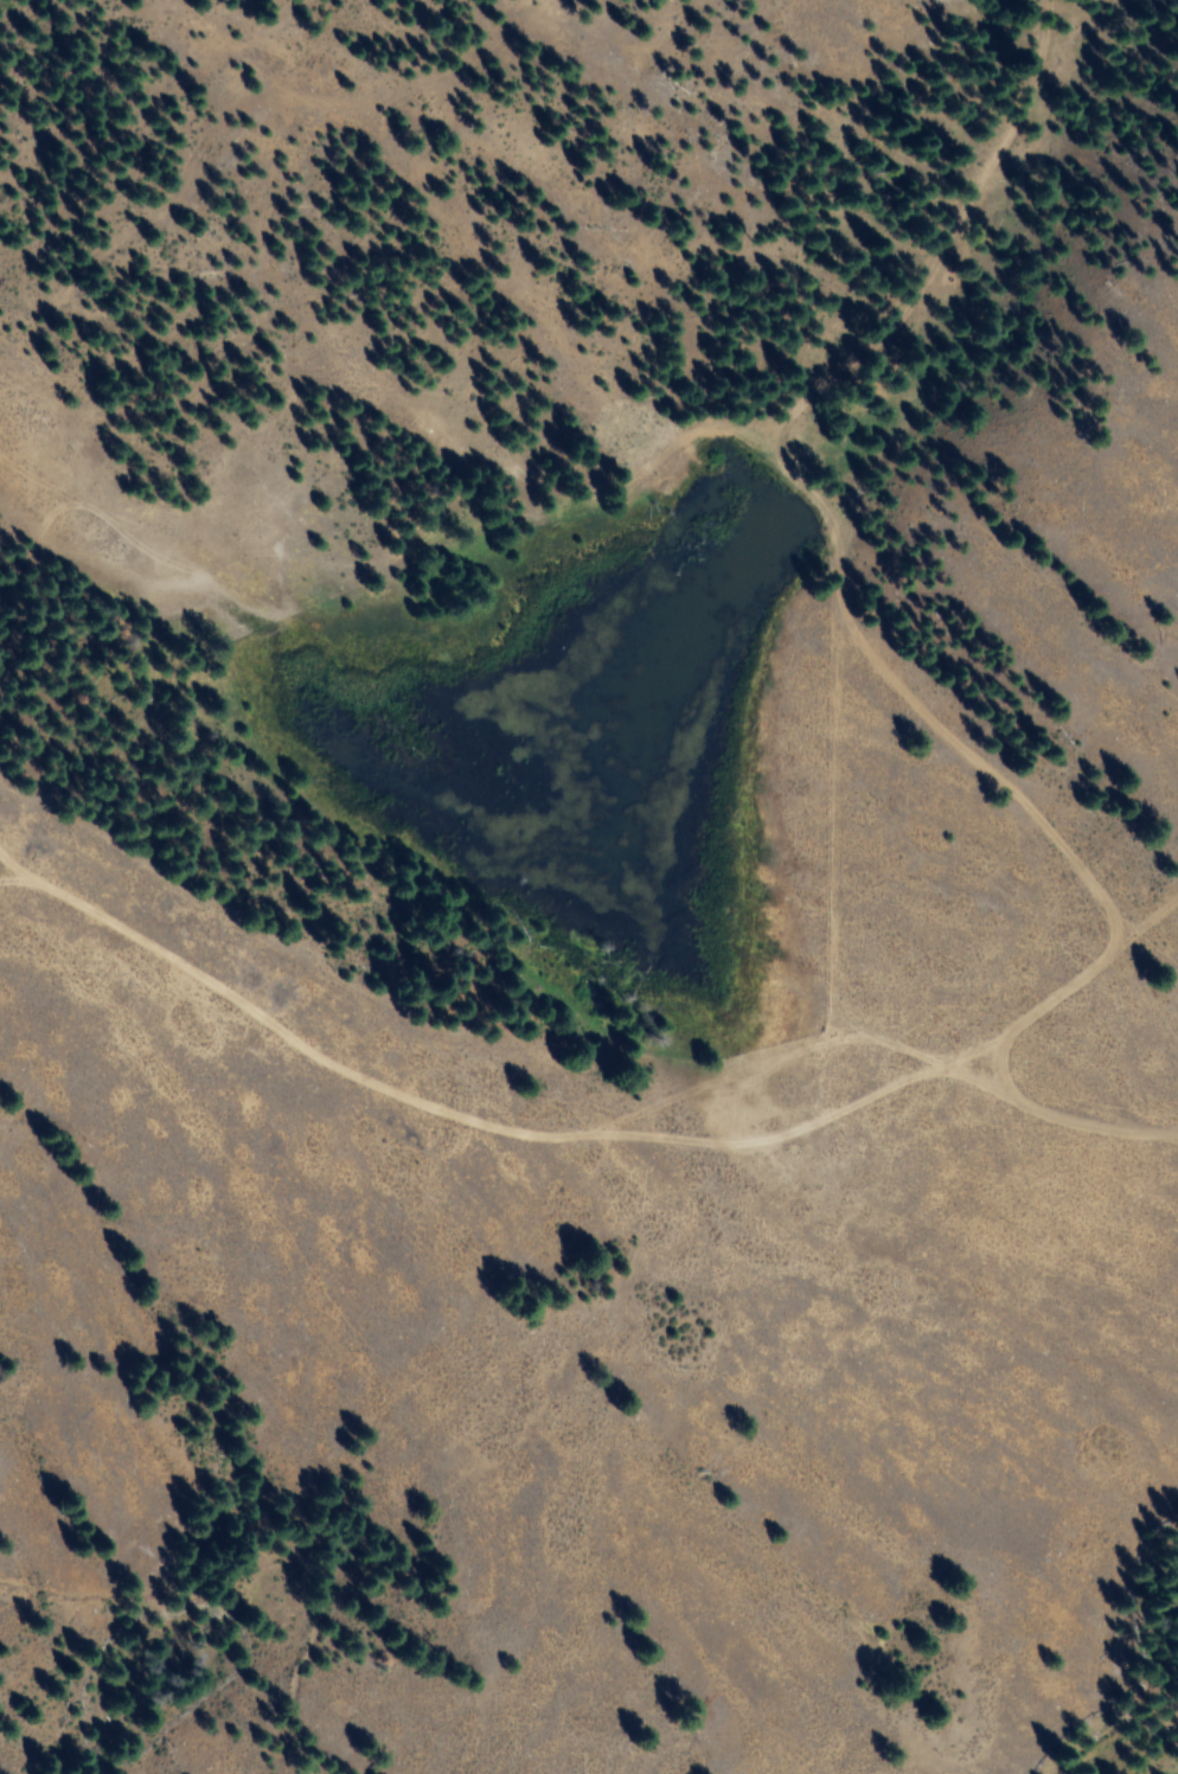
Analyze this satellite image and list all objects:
road: (899, 1026)

